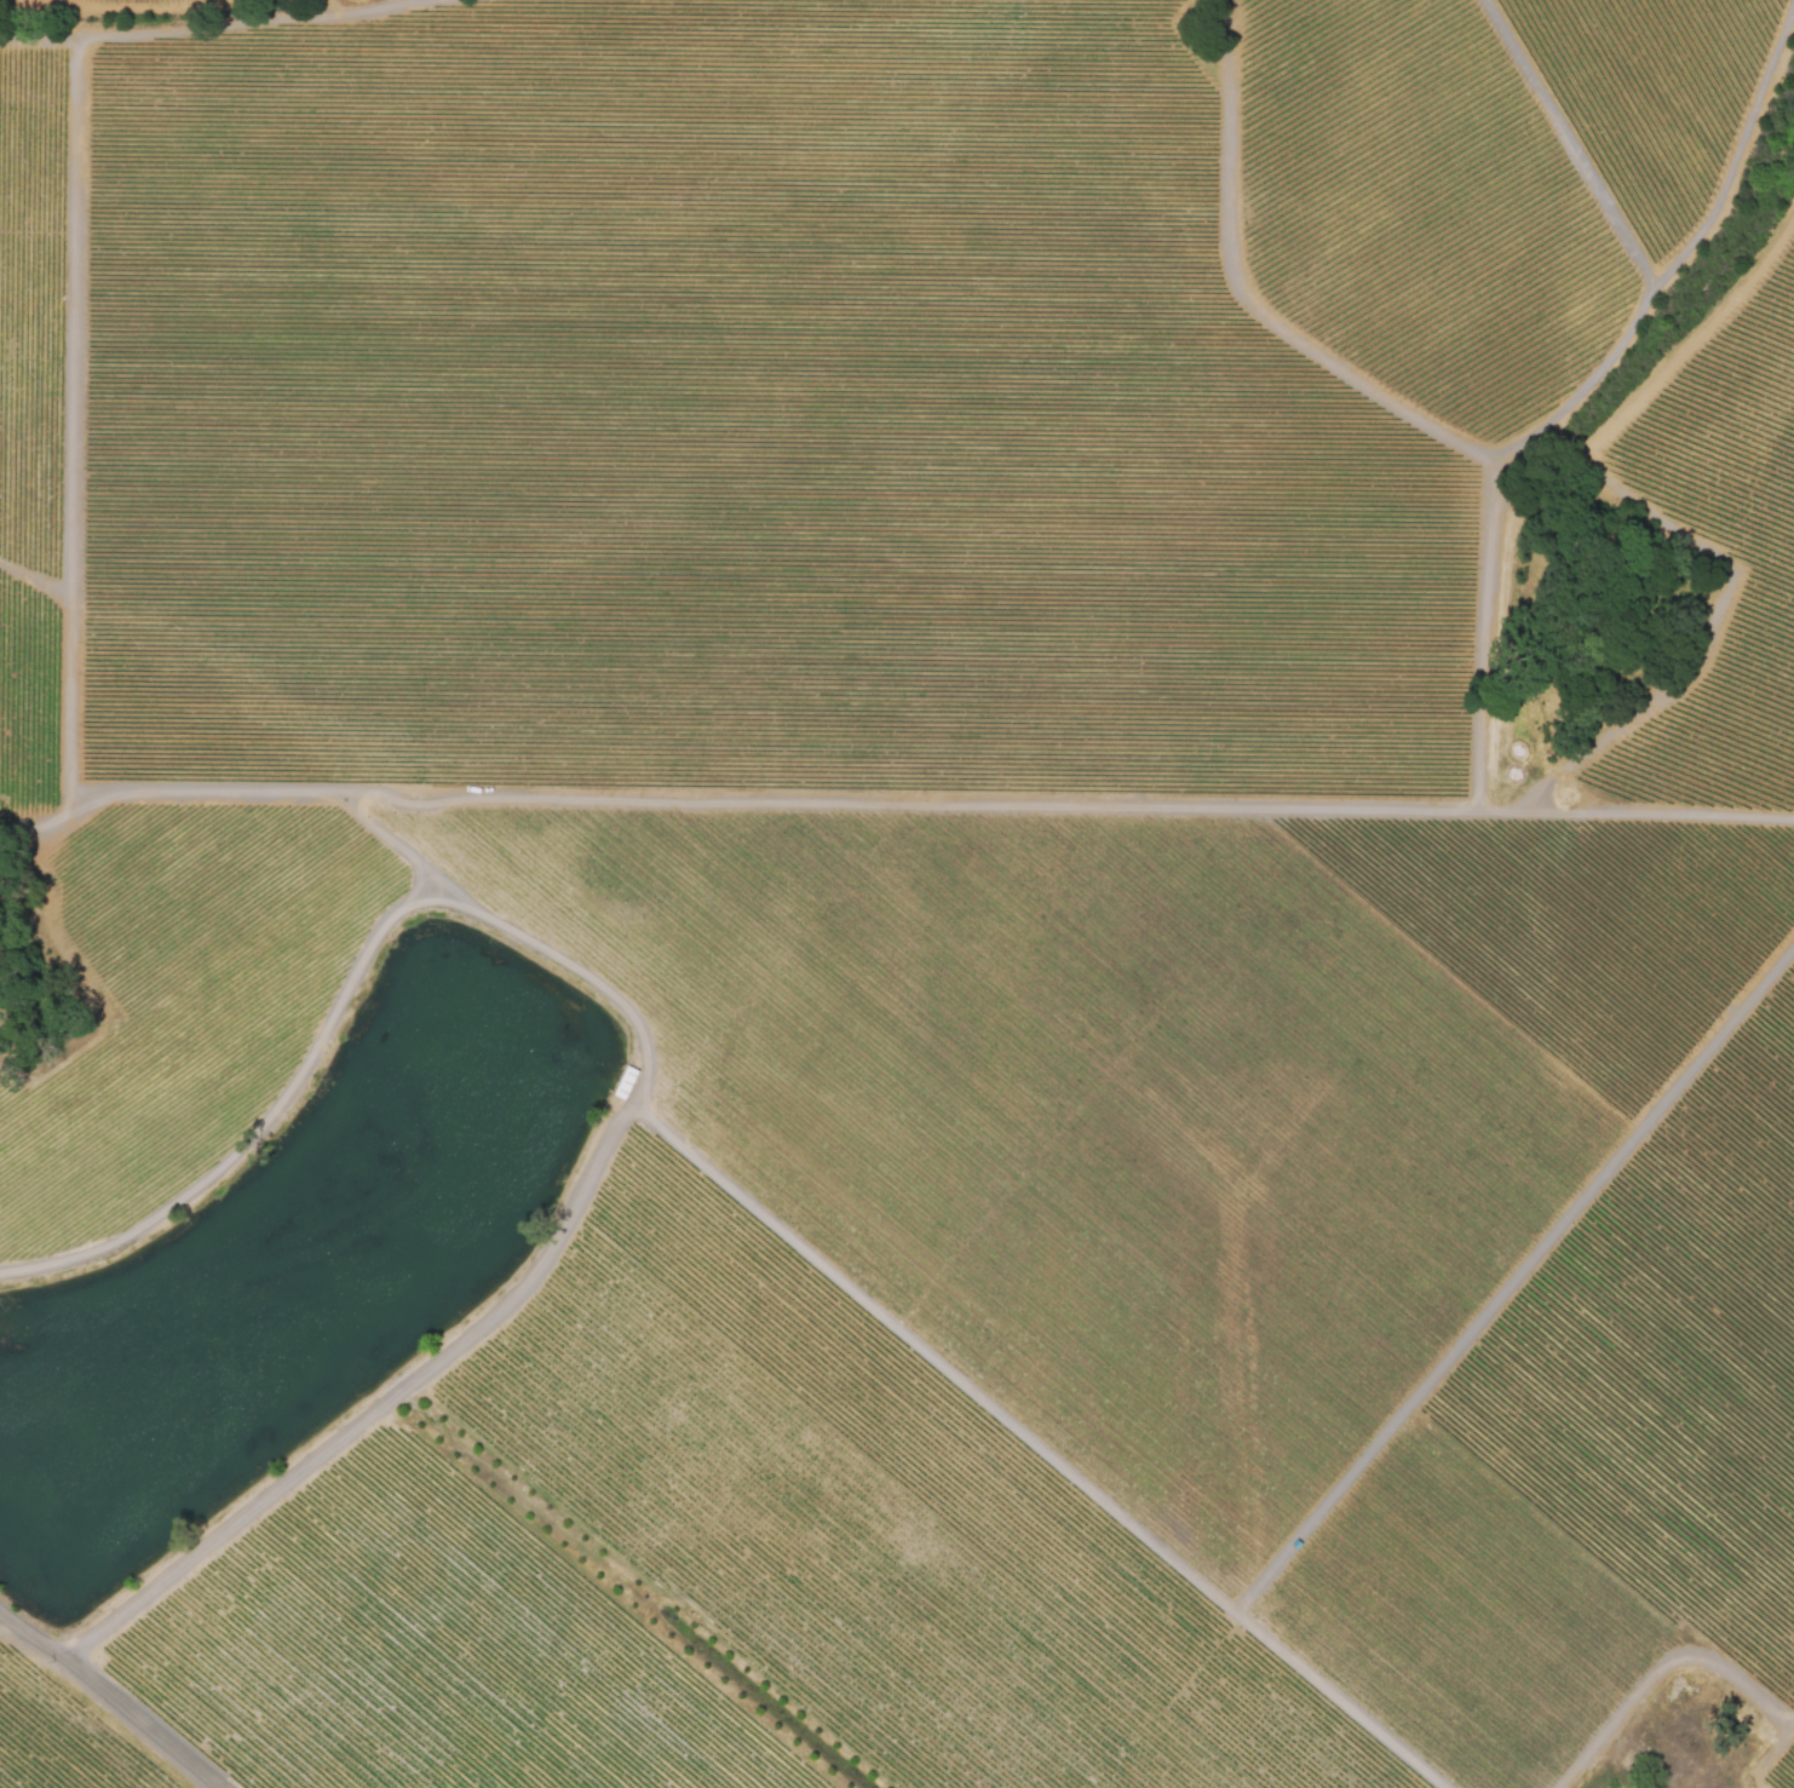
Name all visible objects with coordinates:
road: (115, 1690)

